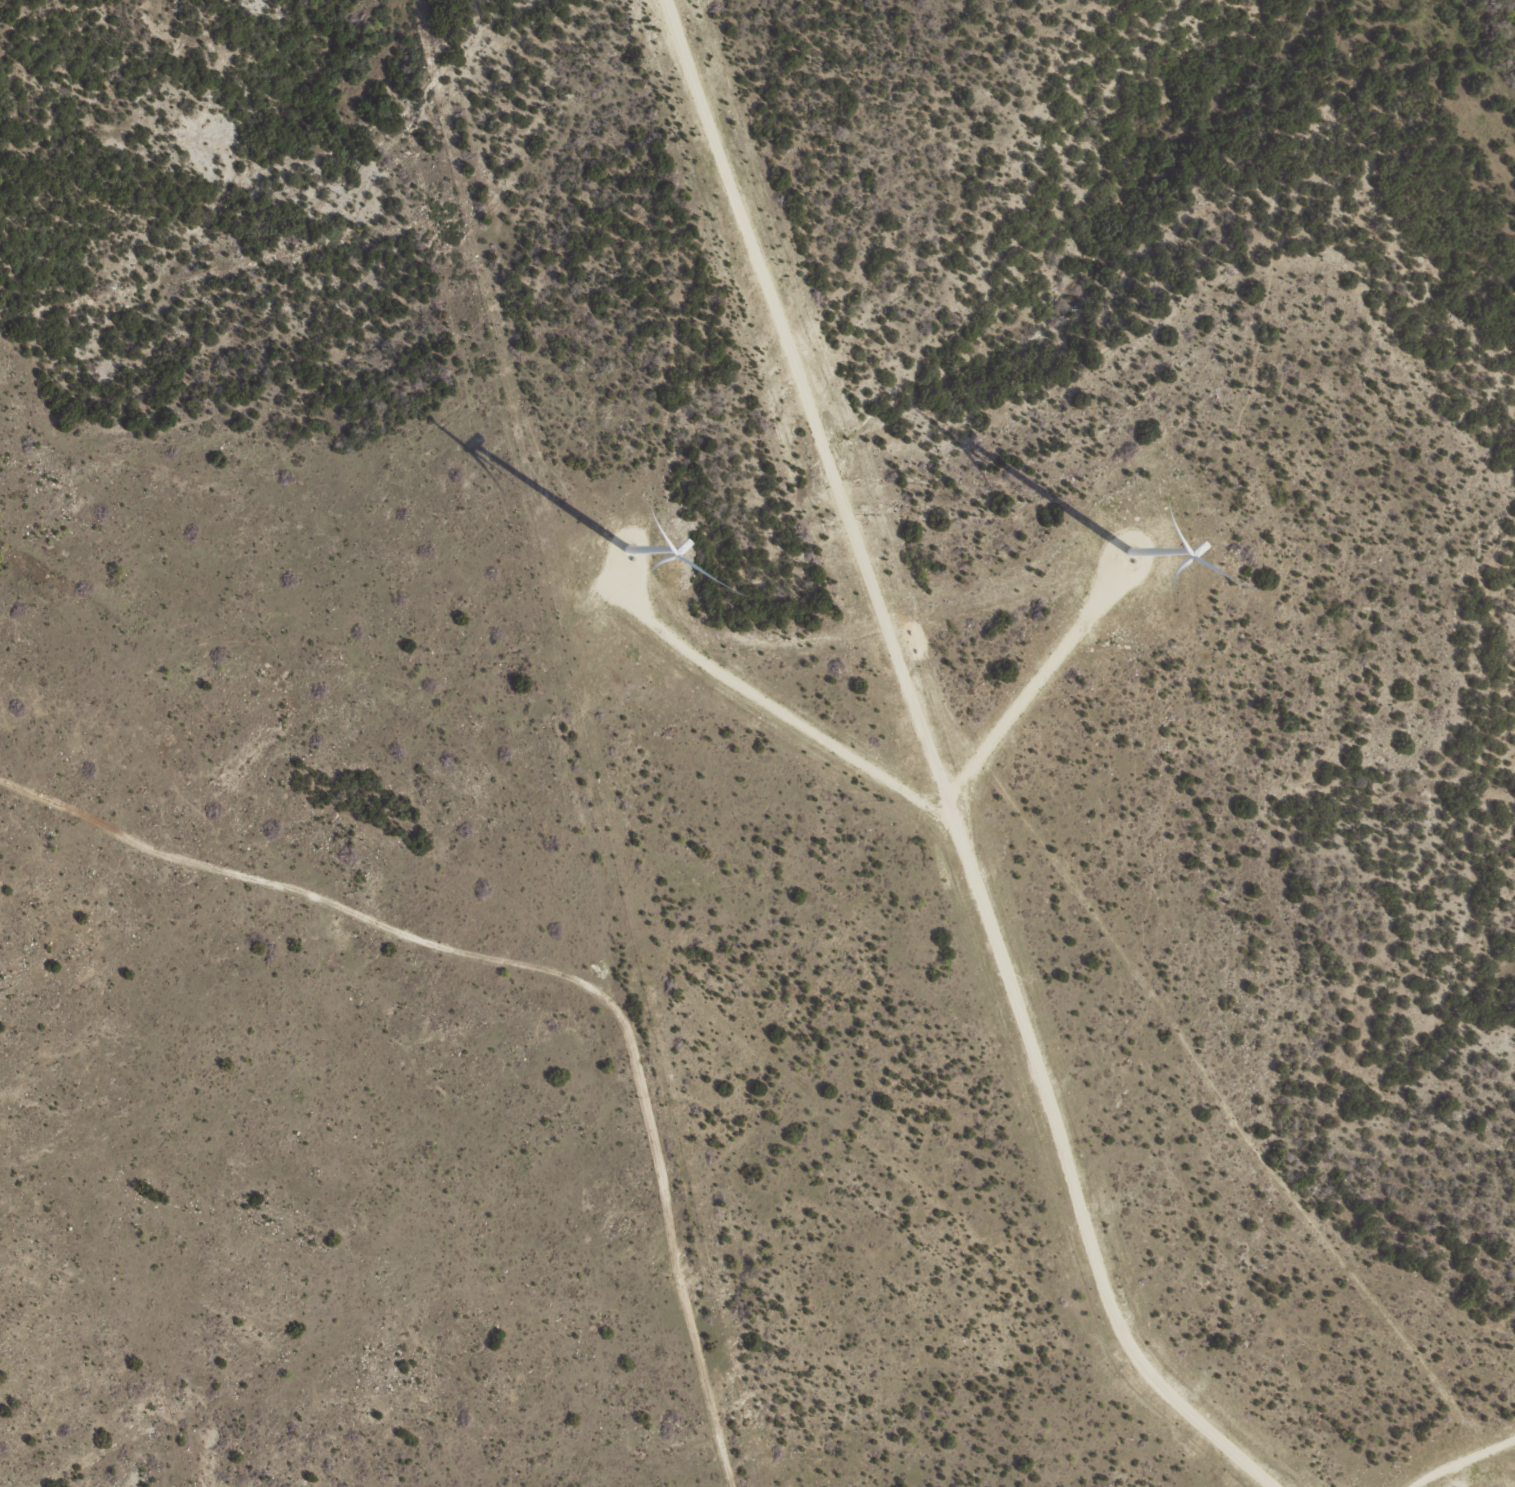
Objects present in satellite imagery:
wind turbine: (610, 567)
wind turbine: (1133, 583)
road: (535, 795)
road: (294, 949)
power substation: (1451, 1486)

